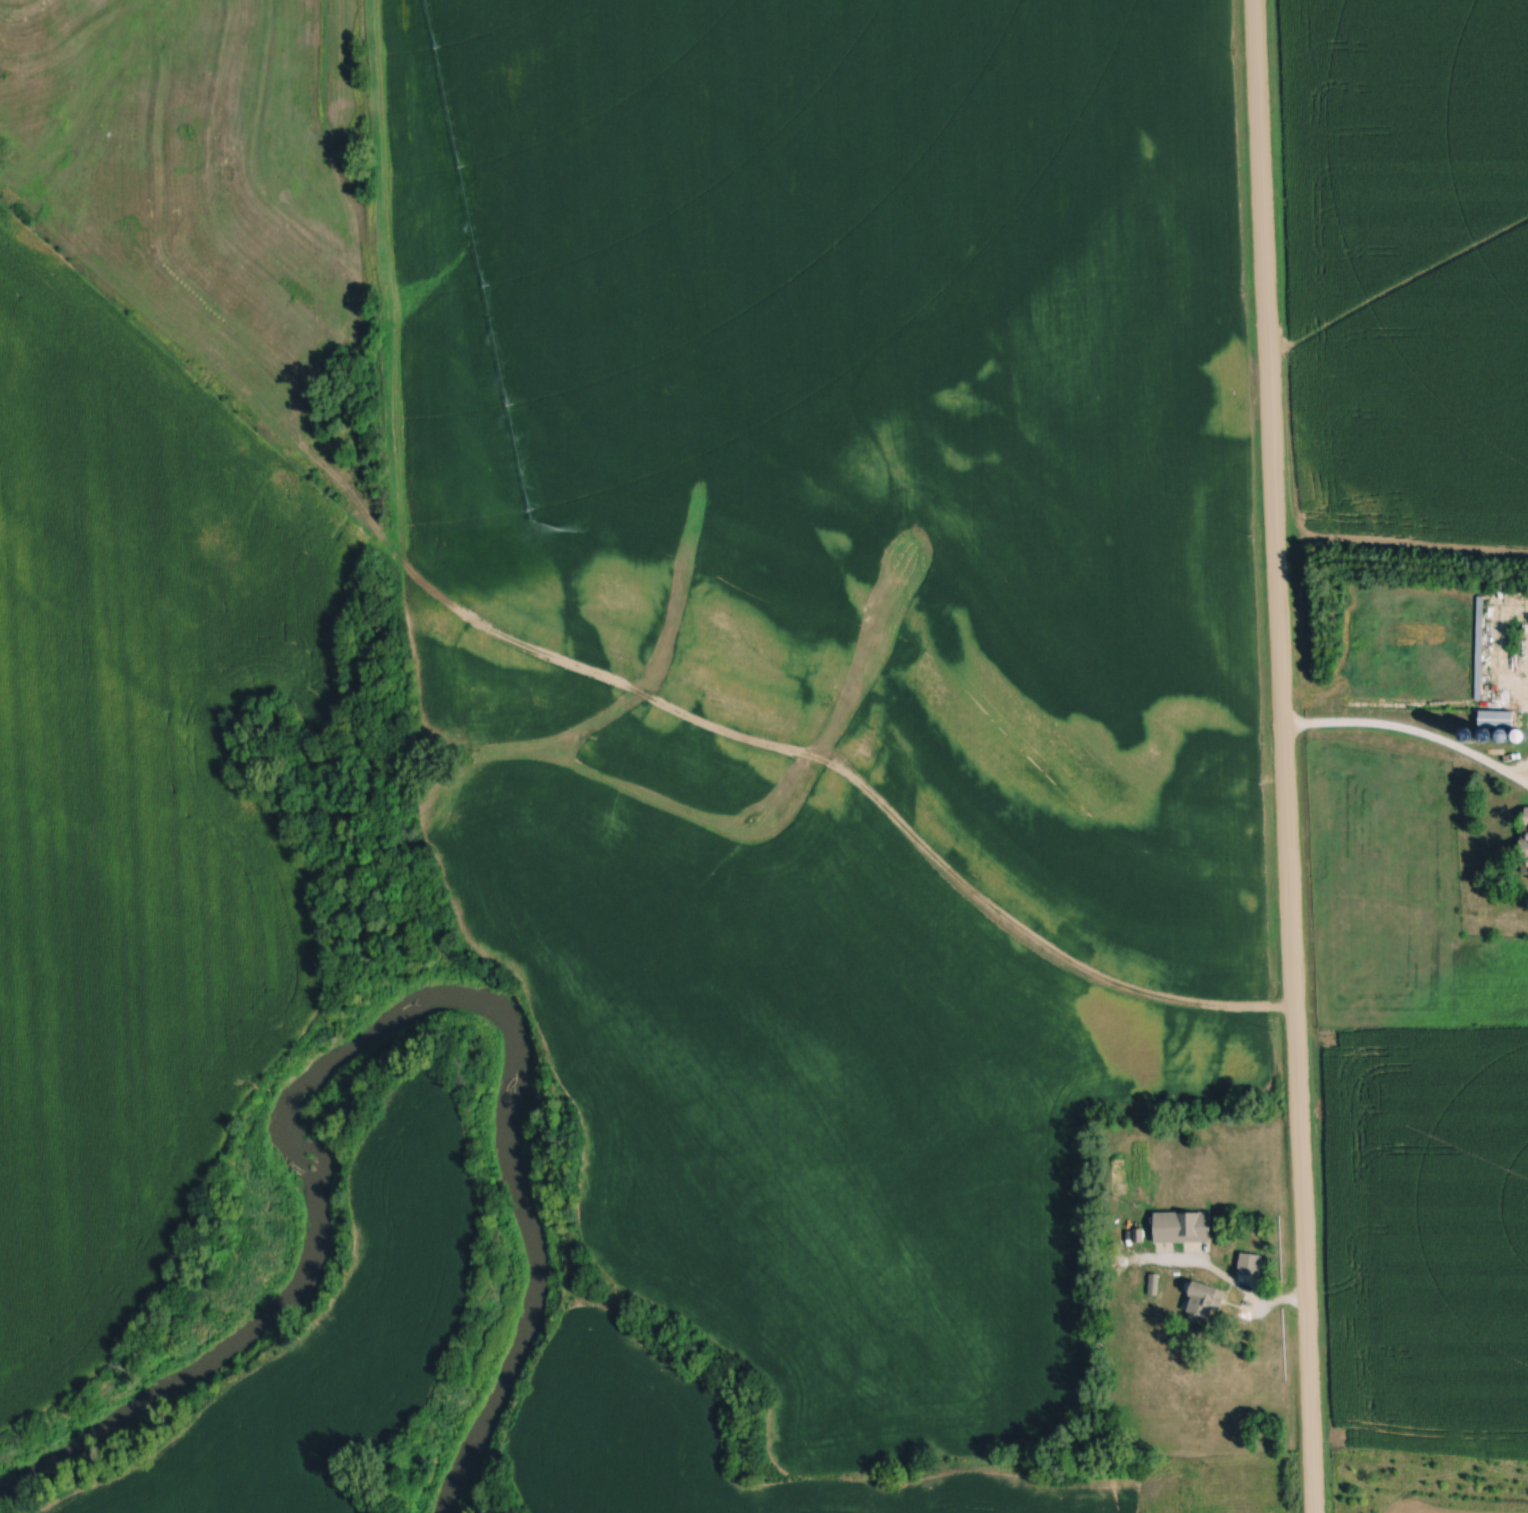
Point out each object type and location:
building: (1497, 721)
road: (1411, 733)
road: (1284, 756)
river: (371, 1023)
building: (1183, 1229)
road: (1244, 1292)
building: (1205, 1303)

